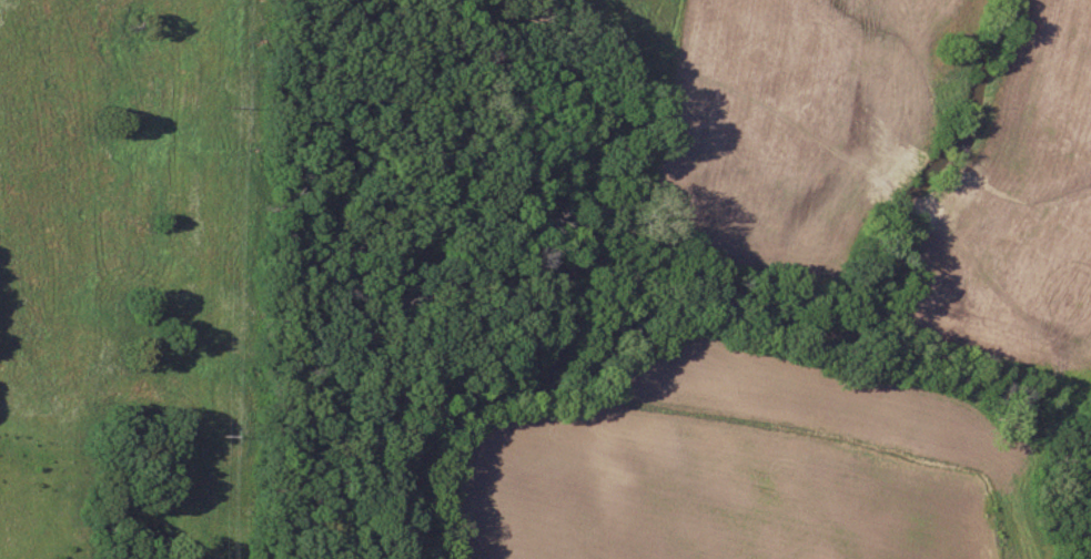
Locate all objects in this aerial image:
river: (697, 281)

